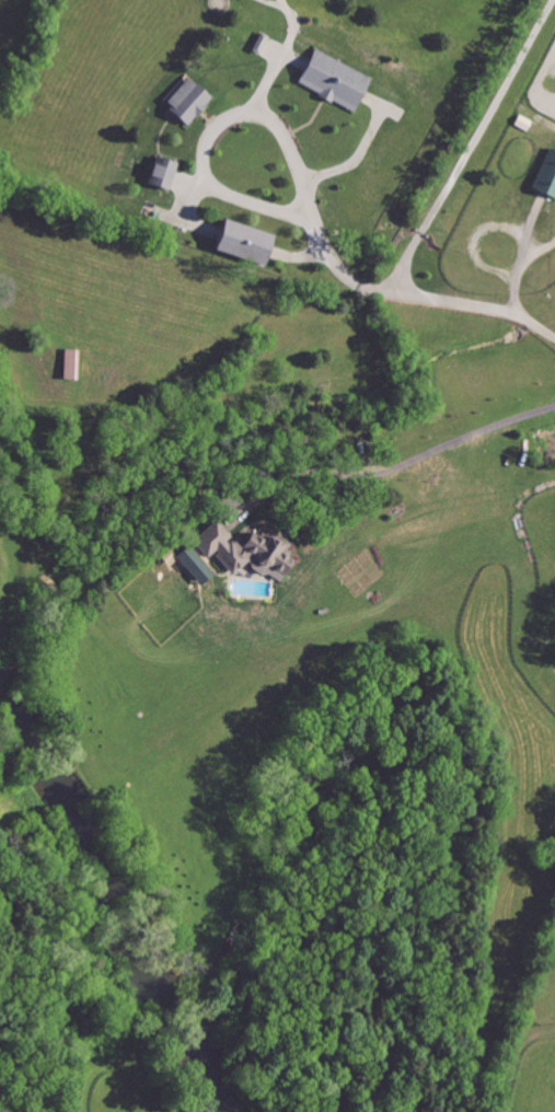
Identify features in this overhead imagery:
building: (334, 81)
building: (187, 102)
road: (211, 132)
road: (293, 165)
building: (162, 175)
building: (546, 177)
road: (258, 202)
road: (431, 213)
building: (242, 244)
road: (523, 260)
building: (70, 366)
building: (544, 442)
road: (404, 463)
building: (243, 549)
river: (115, 899)

